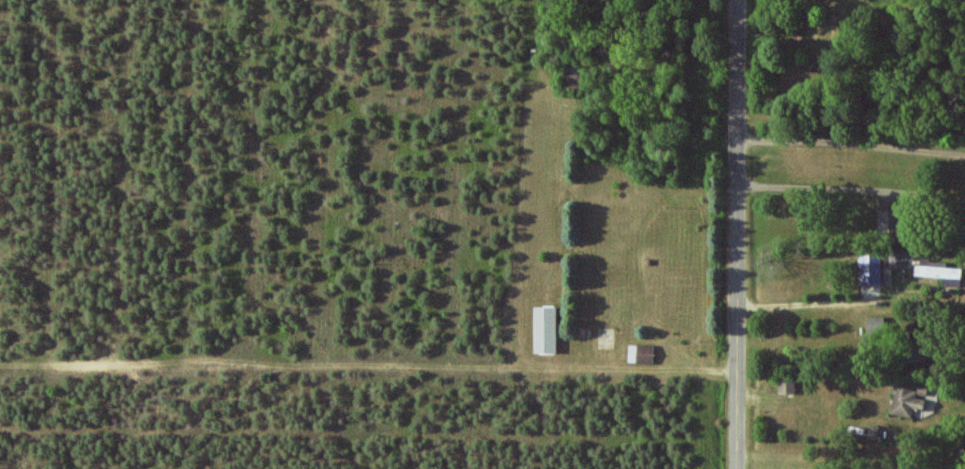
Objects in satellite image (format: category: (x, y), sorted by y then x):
road: (851, 142)
road: (851, 190)
building: (889, 222)
road: (736, 234)
building: (901, 258)
building: (870, 269)
building: (940, 273)
road: (820, 305)
building: (545, 330)
building: (644, 354)
building: (787, 387)
building: (908, 400)

